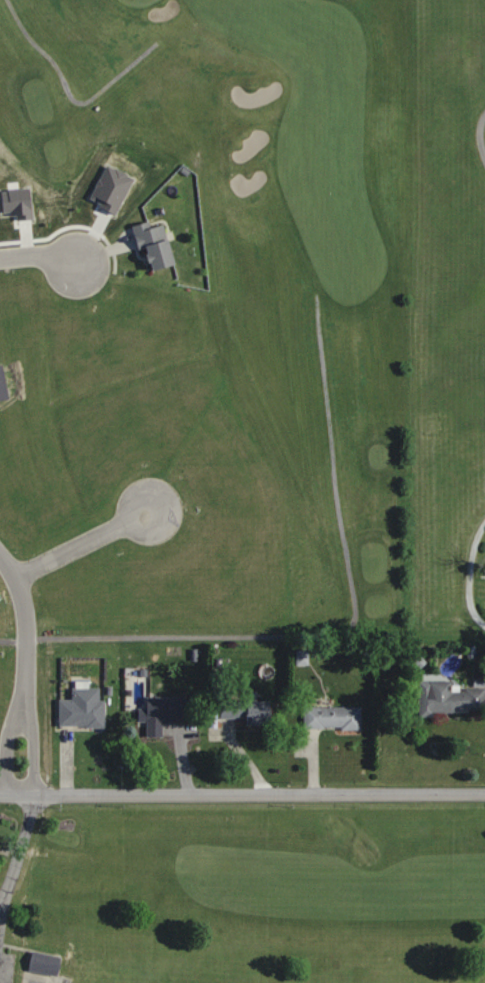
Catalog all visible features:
park: (144, 1)
road: (75, 91)
road: (480, 135)
building: (155, 244)
road: (40, 255)
park: (448, 319)
road: (340, 458)
park: (213, 465)
road: (83, 542)
road: (469, 574)
road: (24, 621)
road: (183, 635)
building: (450, 699)
building: (82, 708)
building: (248, 712)
building: (163, 714)
building: (333, 717)
road: (7, 743)
road: (34, 745)
road: (242, 794)
road: (23, 858)
road: (7, 950)
building: (45, 958)

